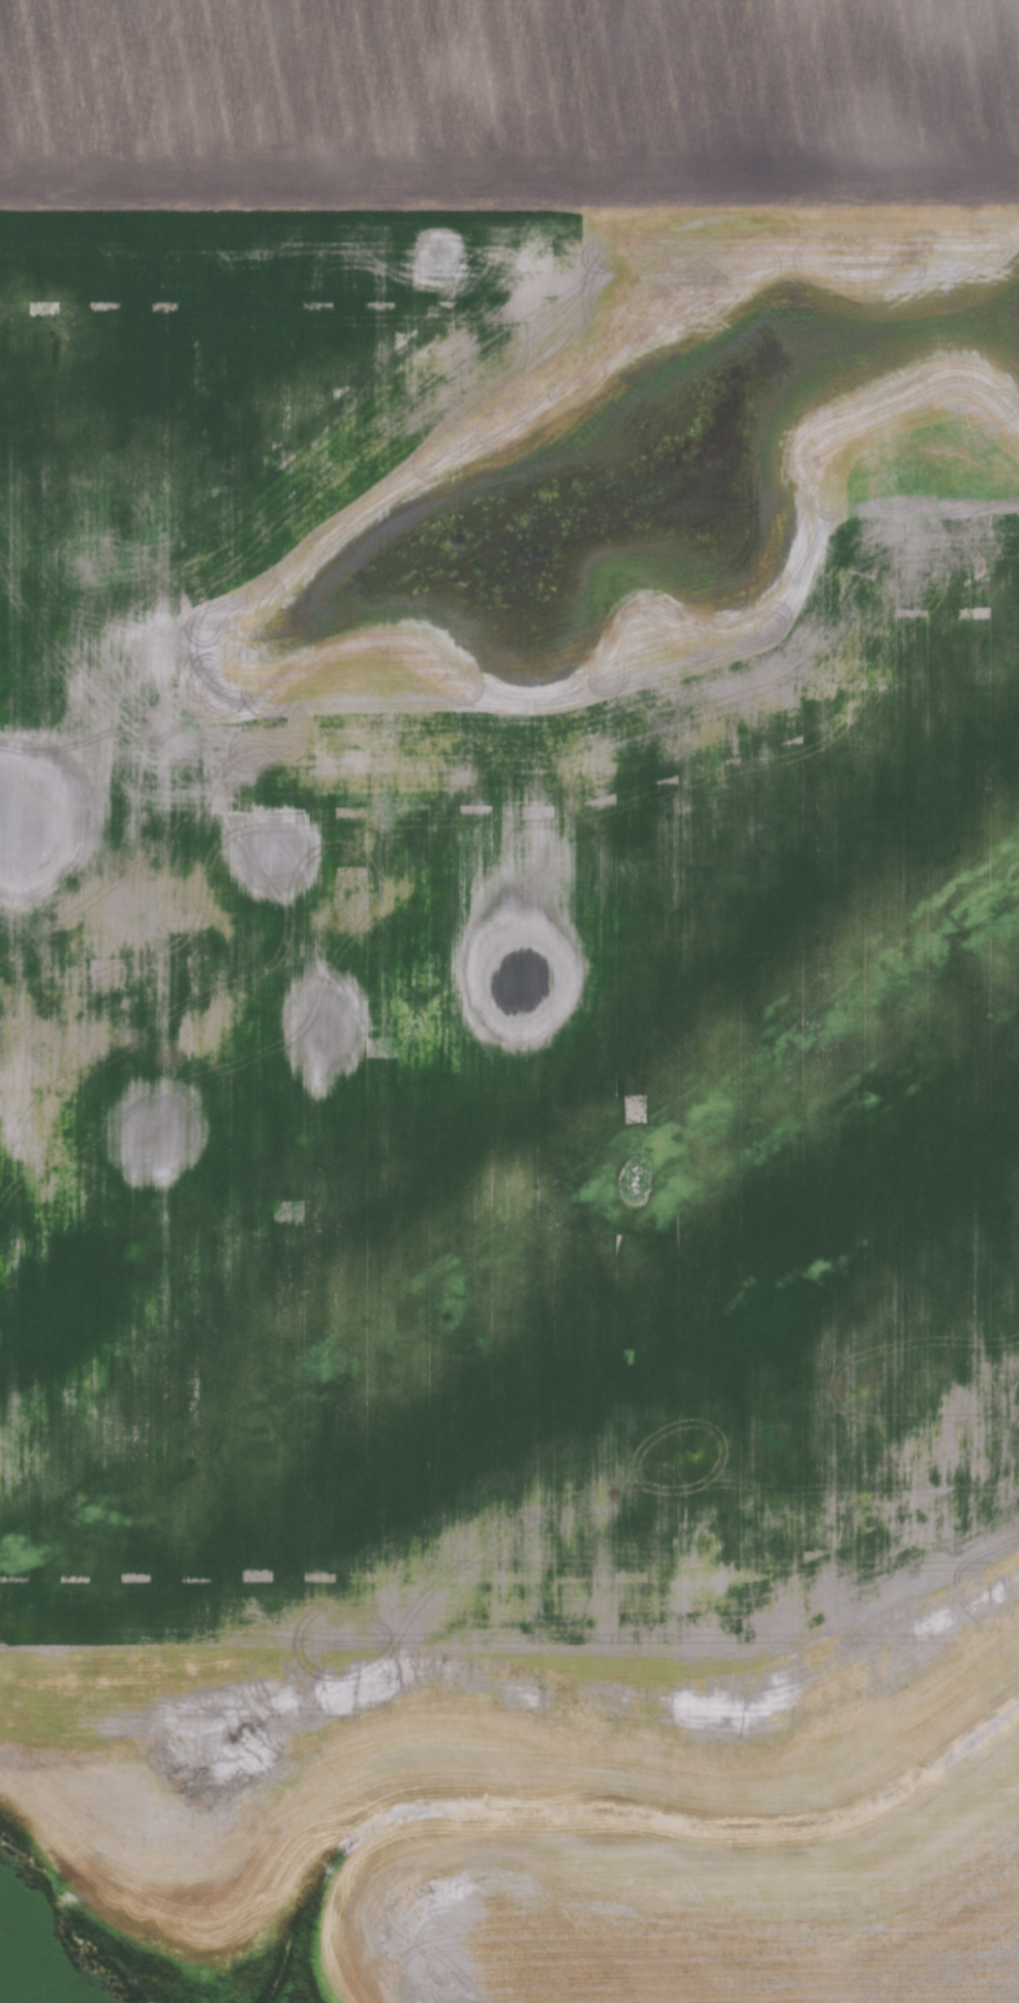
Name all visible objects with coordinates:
road: (509, 180)

